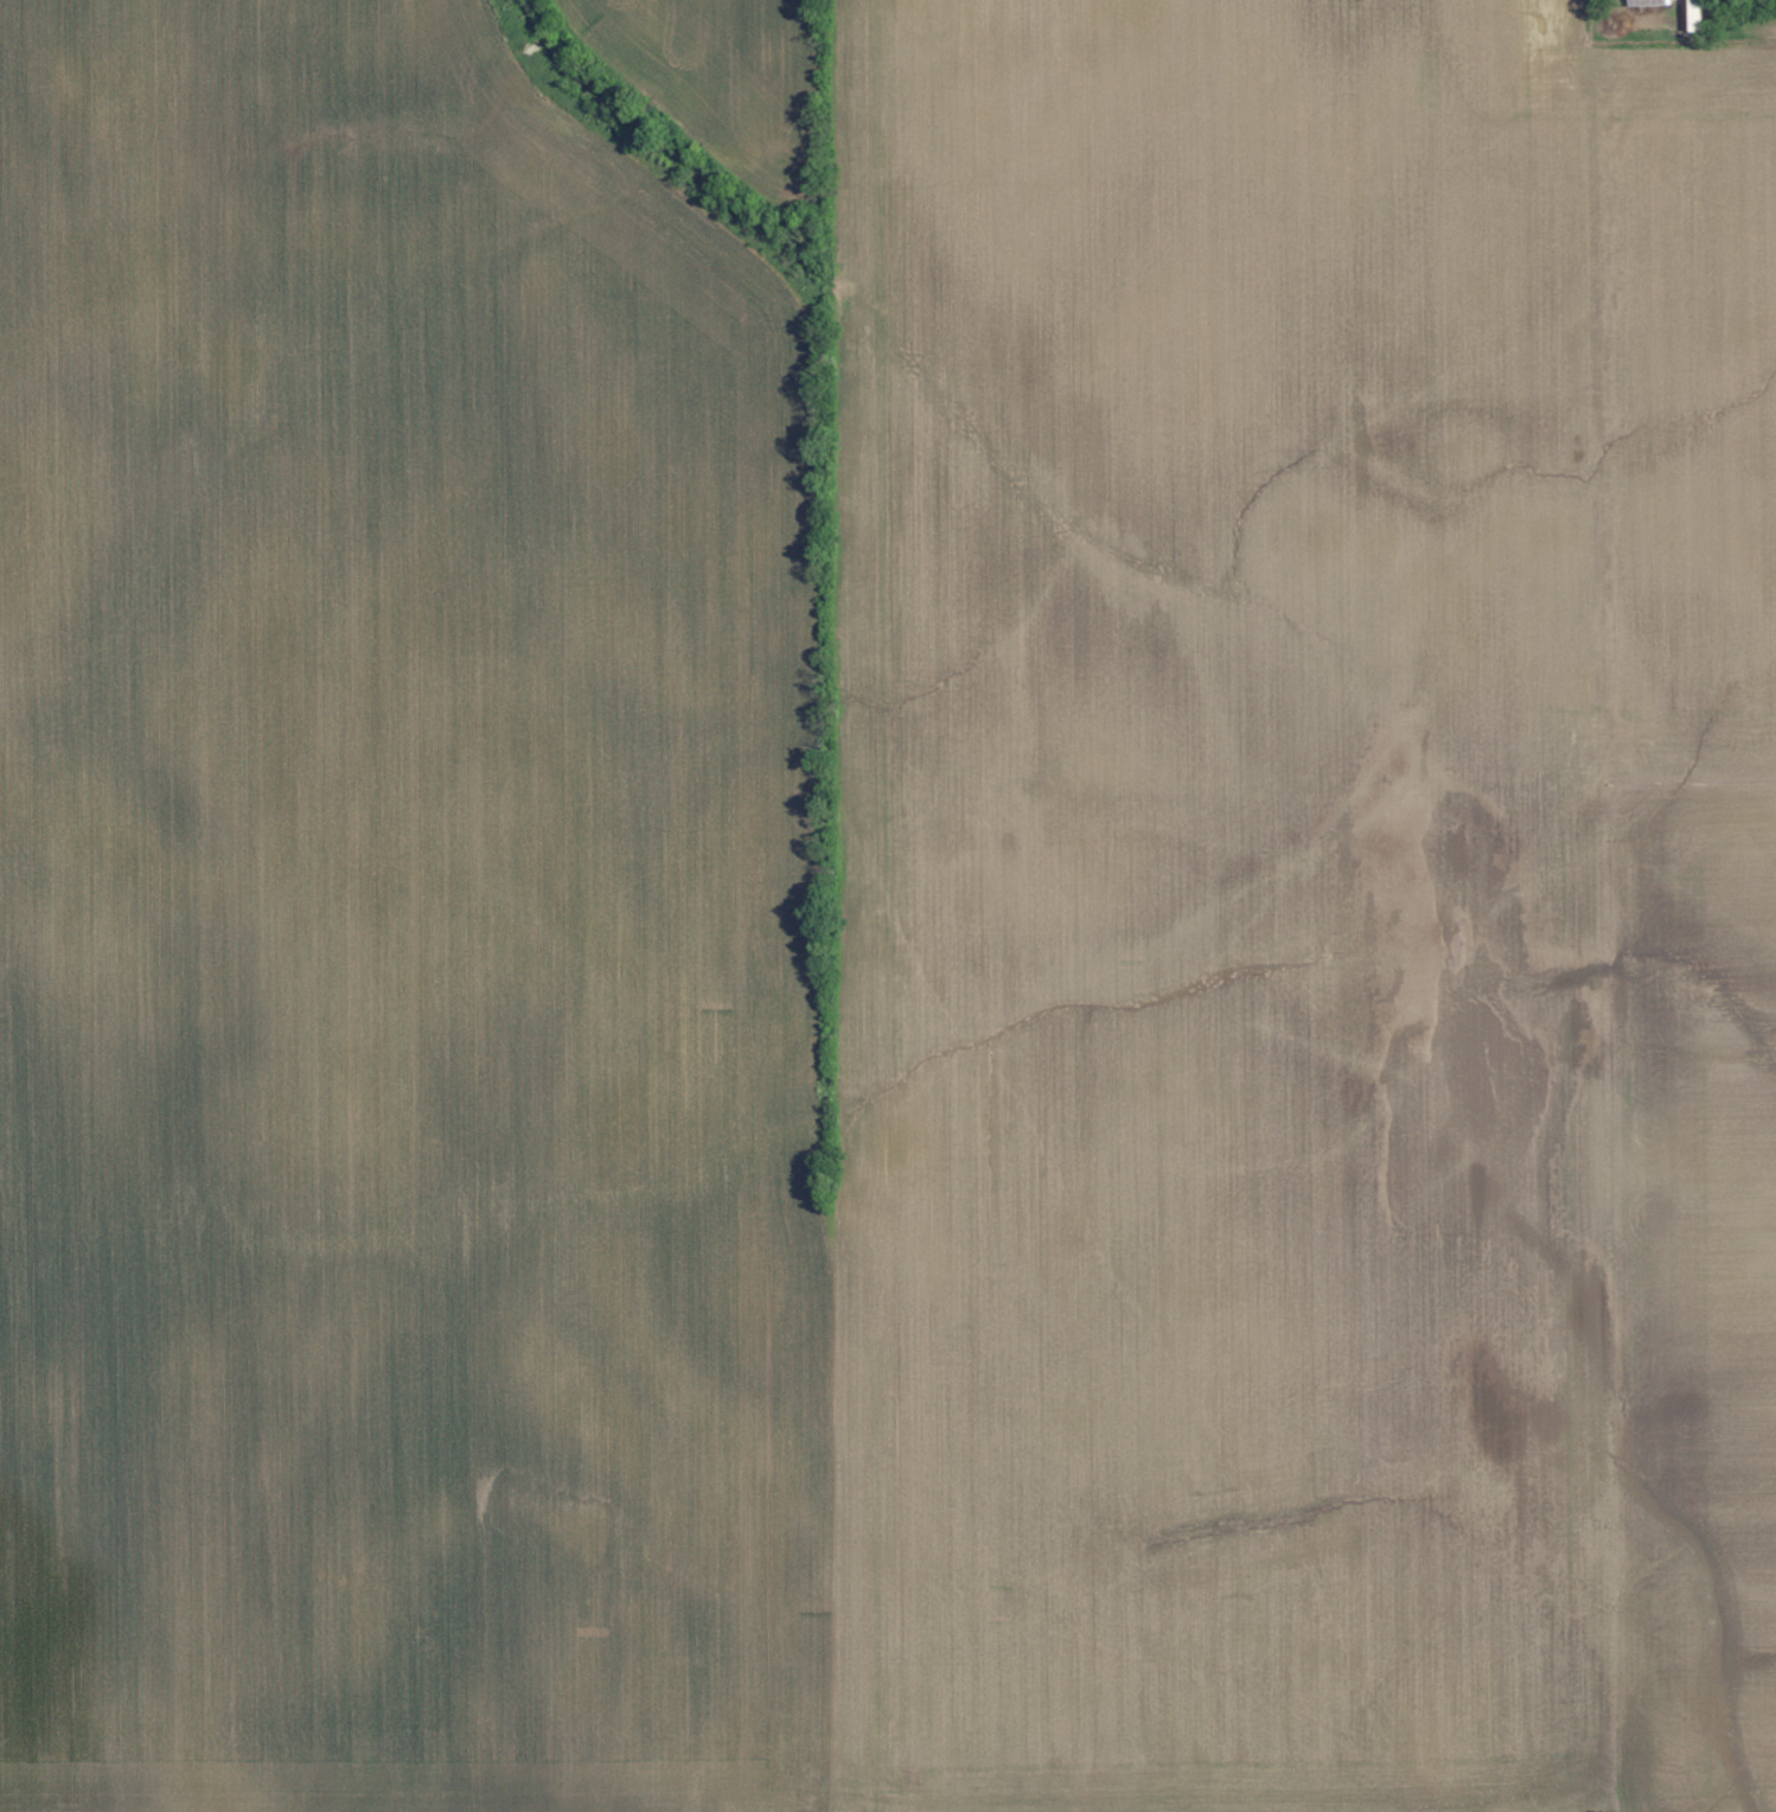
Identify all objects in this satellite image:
building: (1650, 1)
crop: (721, 75)
crop: (1216, 391)
crop: (1699, 408)
crop: (400, 938)
crop: (1224, 1309)

